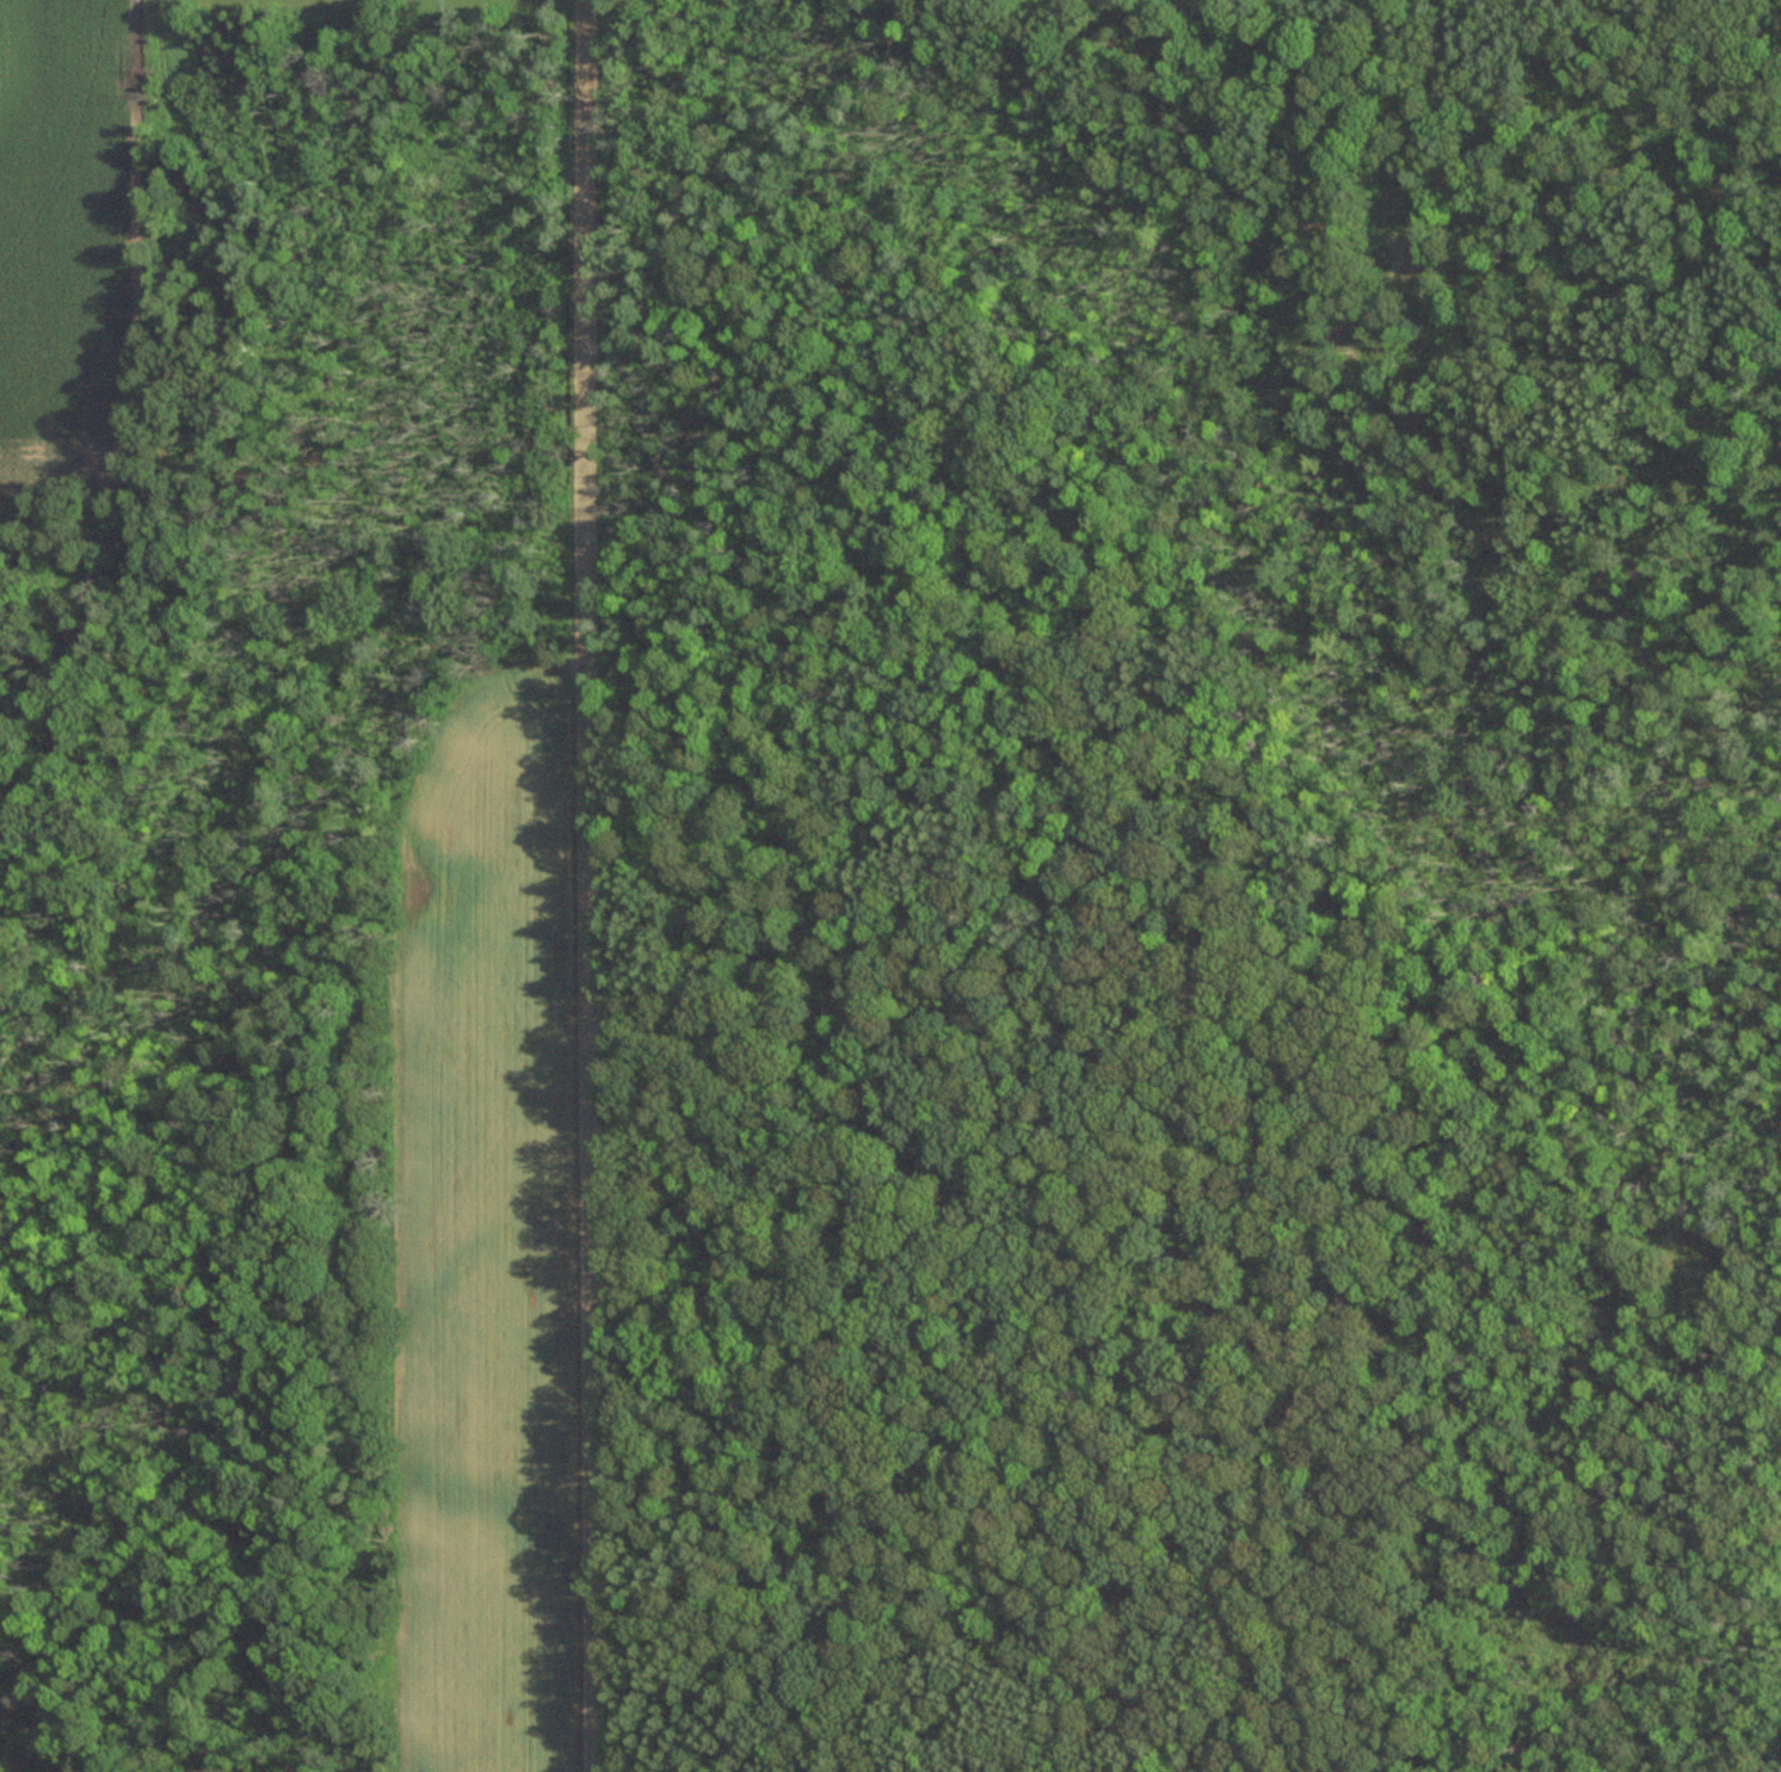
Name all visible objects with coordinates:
road: (1499, 246)
road: (571, 885)
road: (1175, 1752)
road: (787, 1770)

